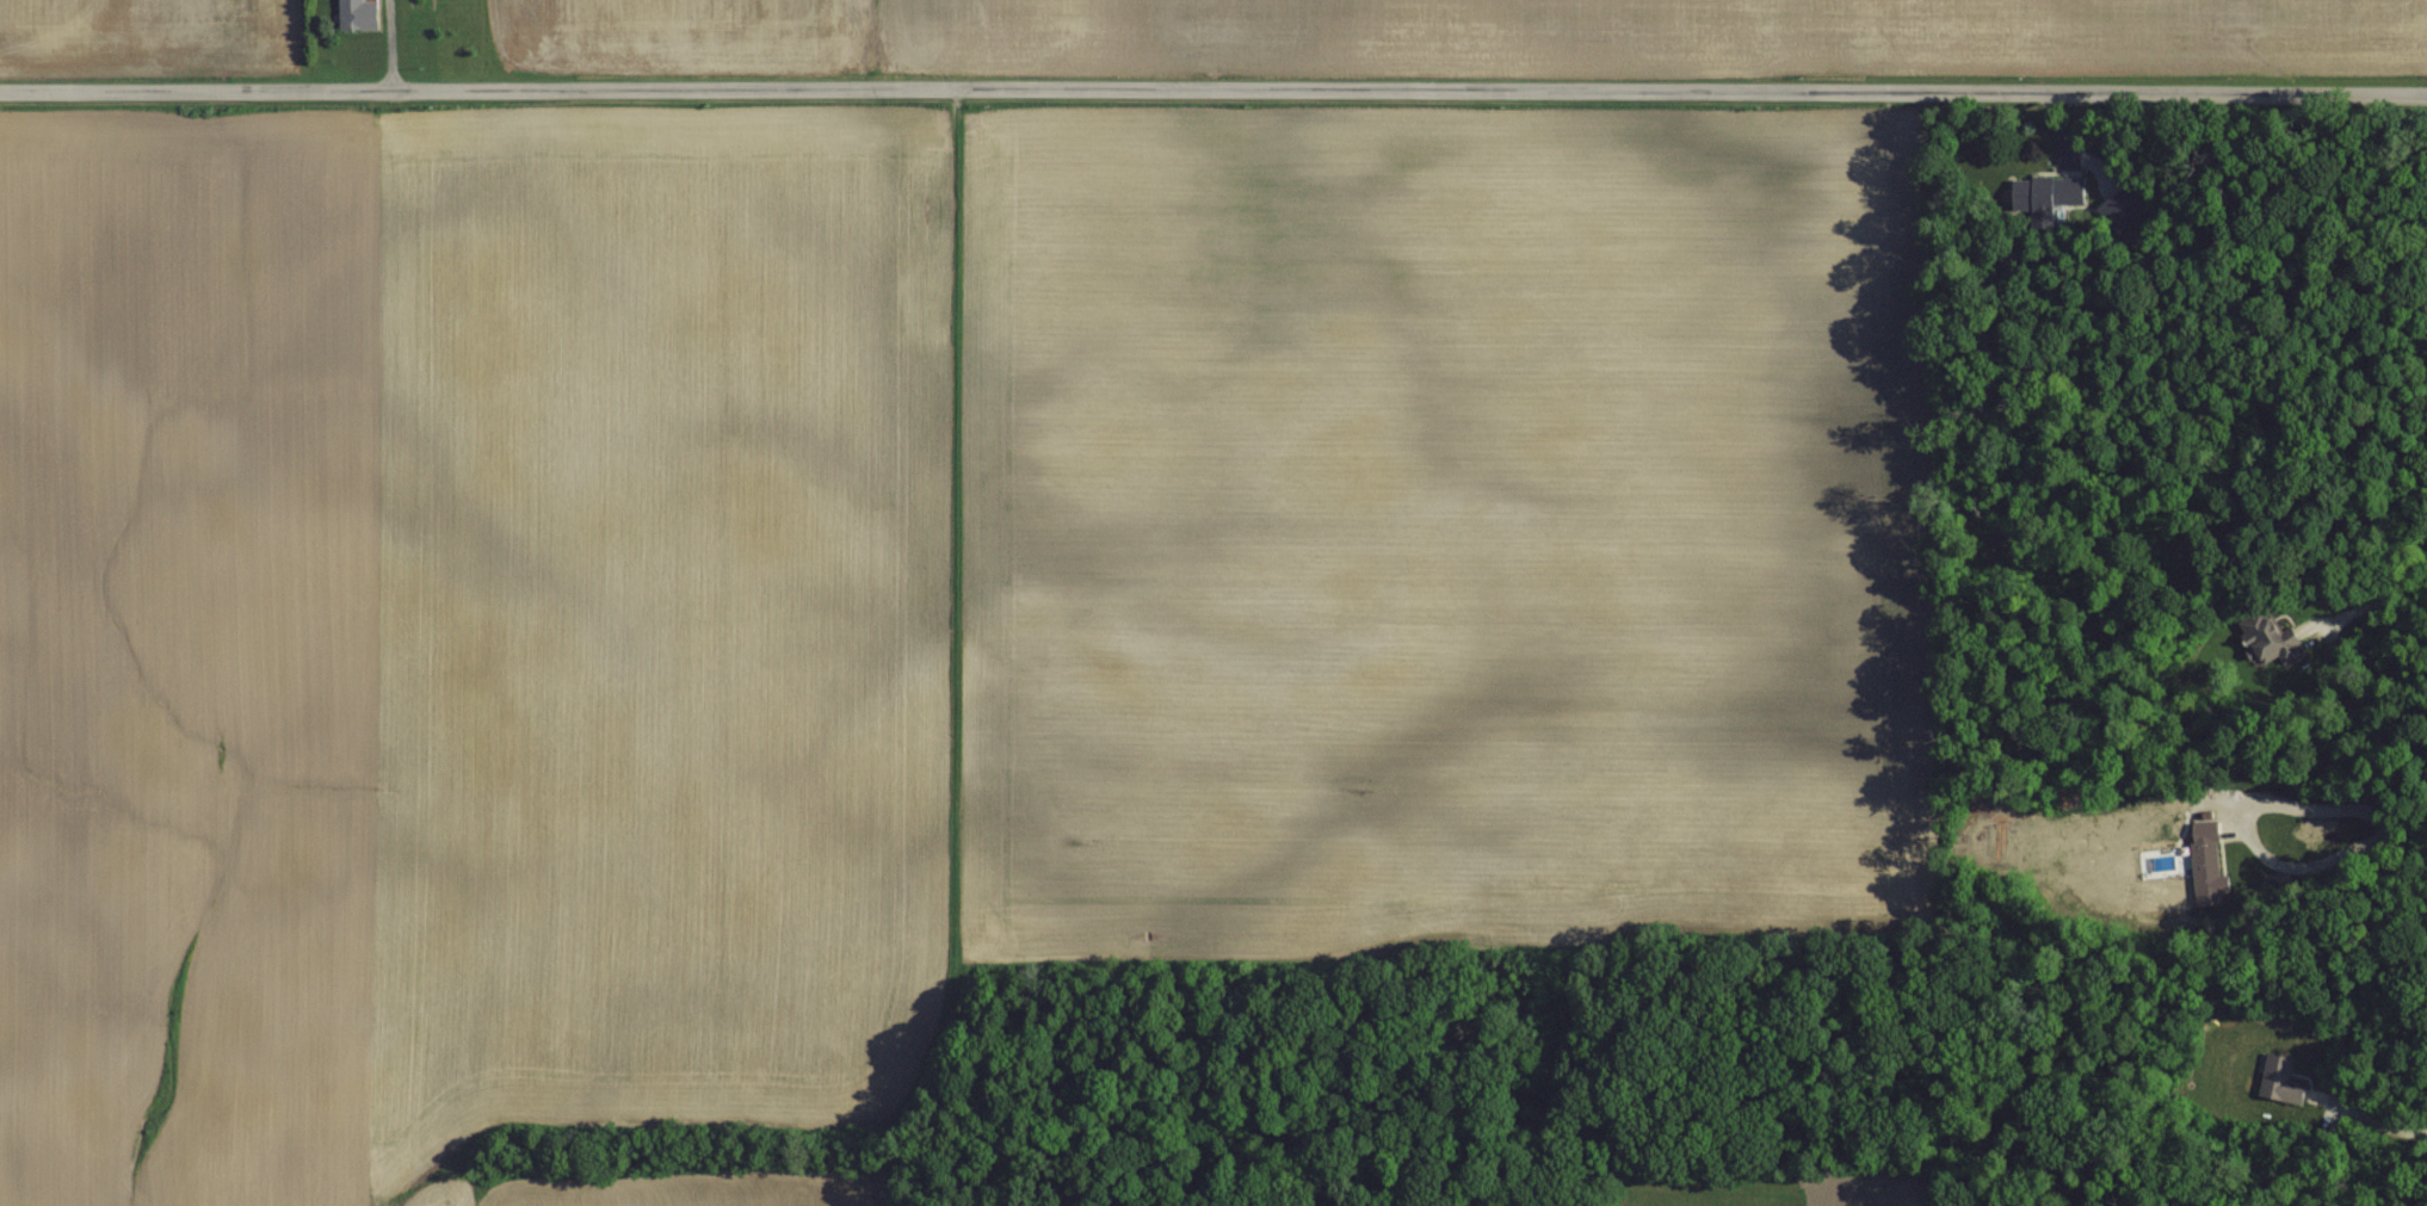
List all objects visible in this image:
building: (358, 13)
road: (388, 45)
road: (1213, 91)
road: (2366, 602)
road: (2336, 808)
road: (2373, 1119)

